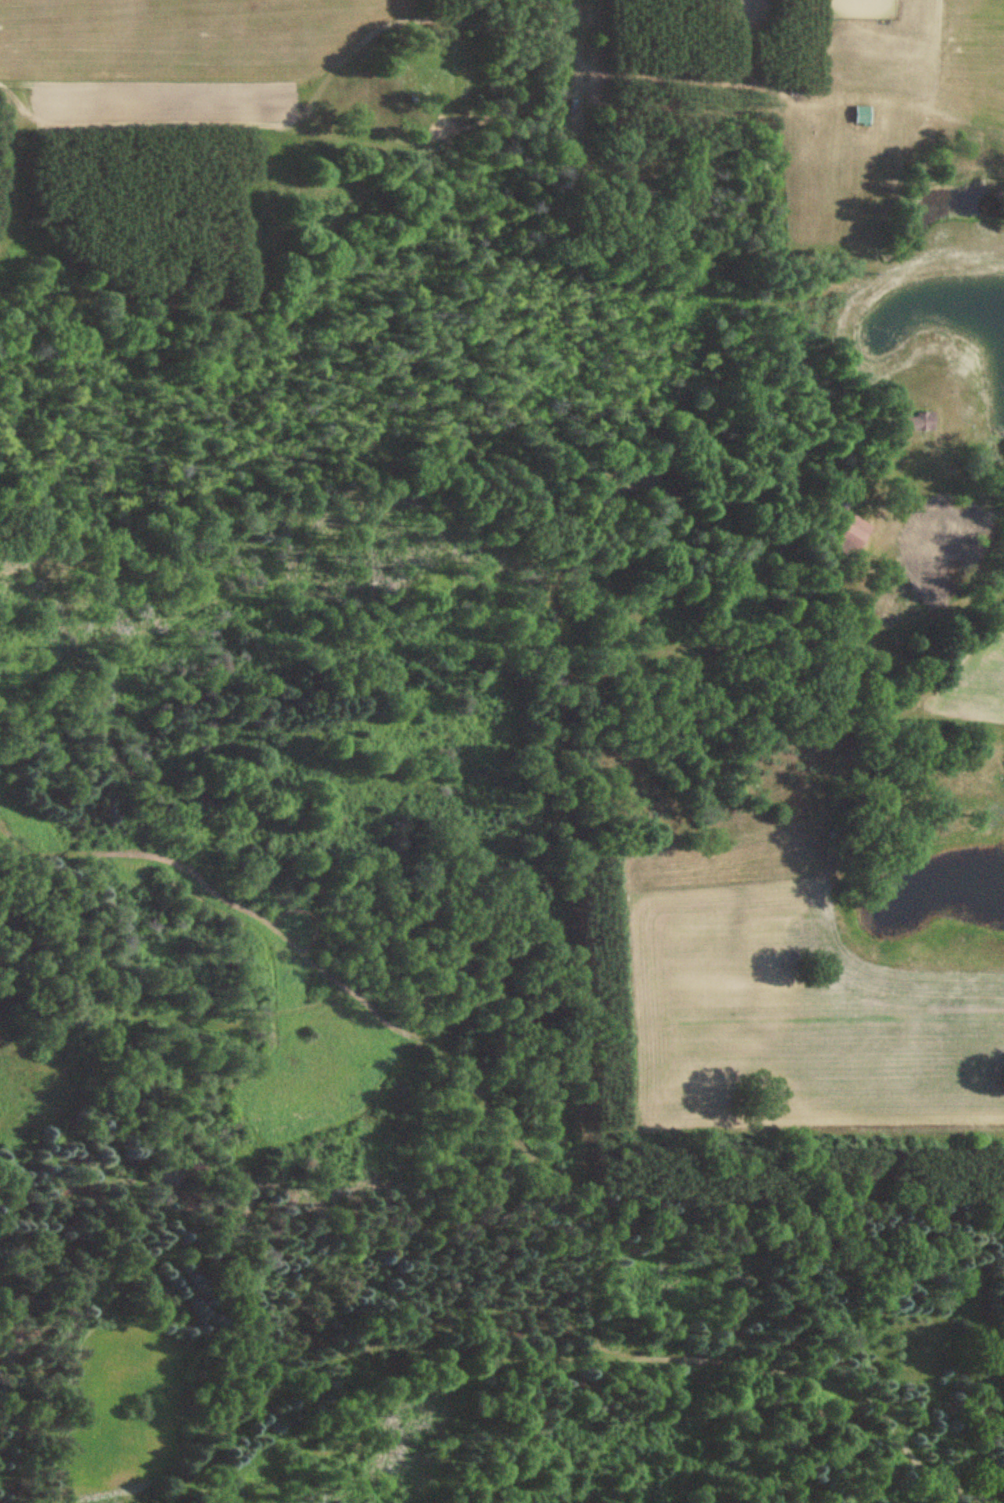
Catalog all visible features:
building: (915, 422)
building: (849, 537)
road: (502, 1357)

